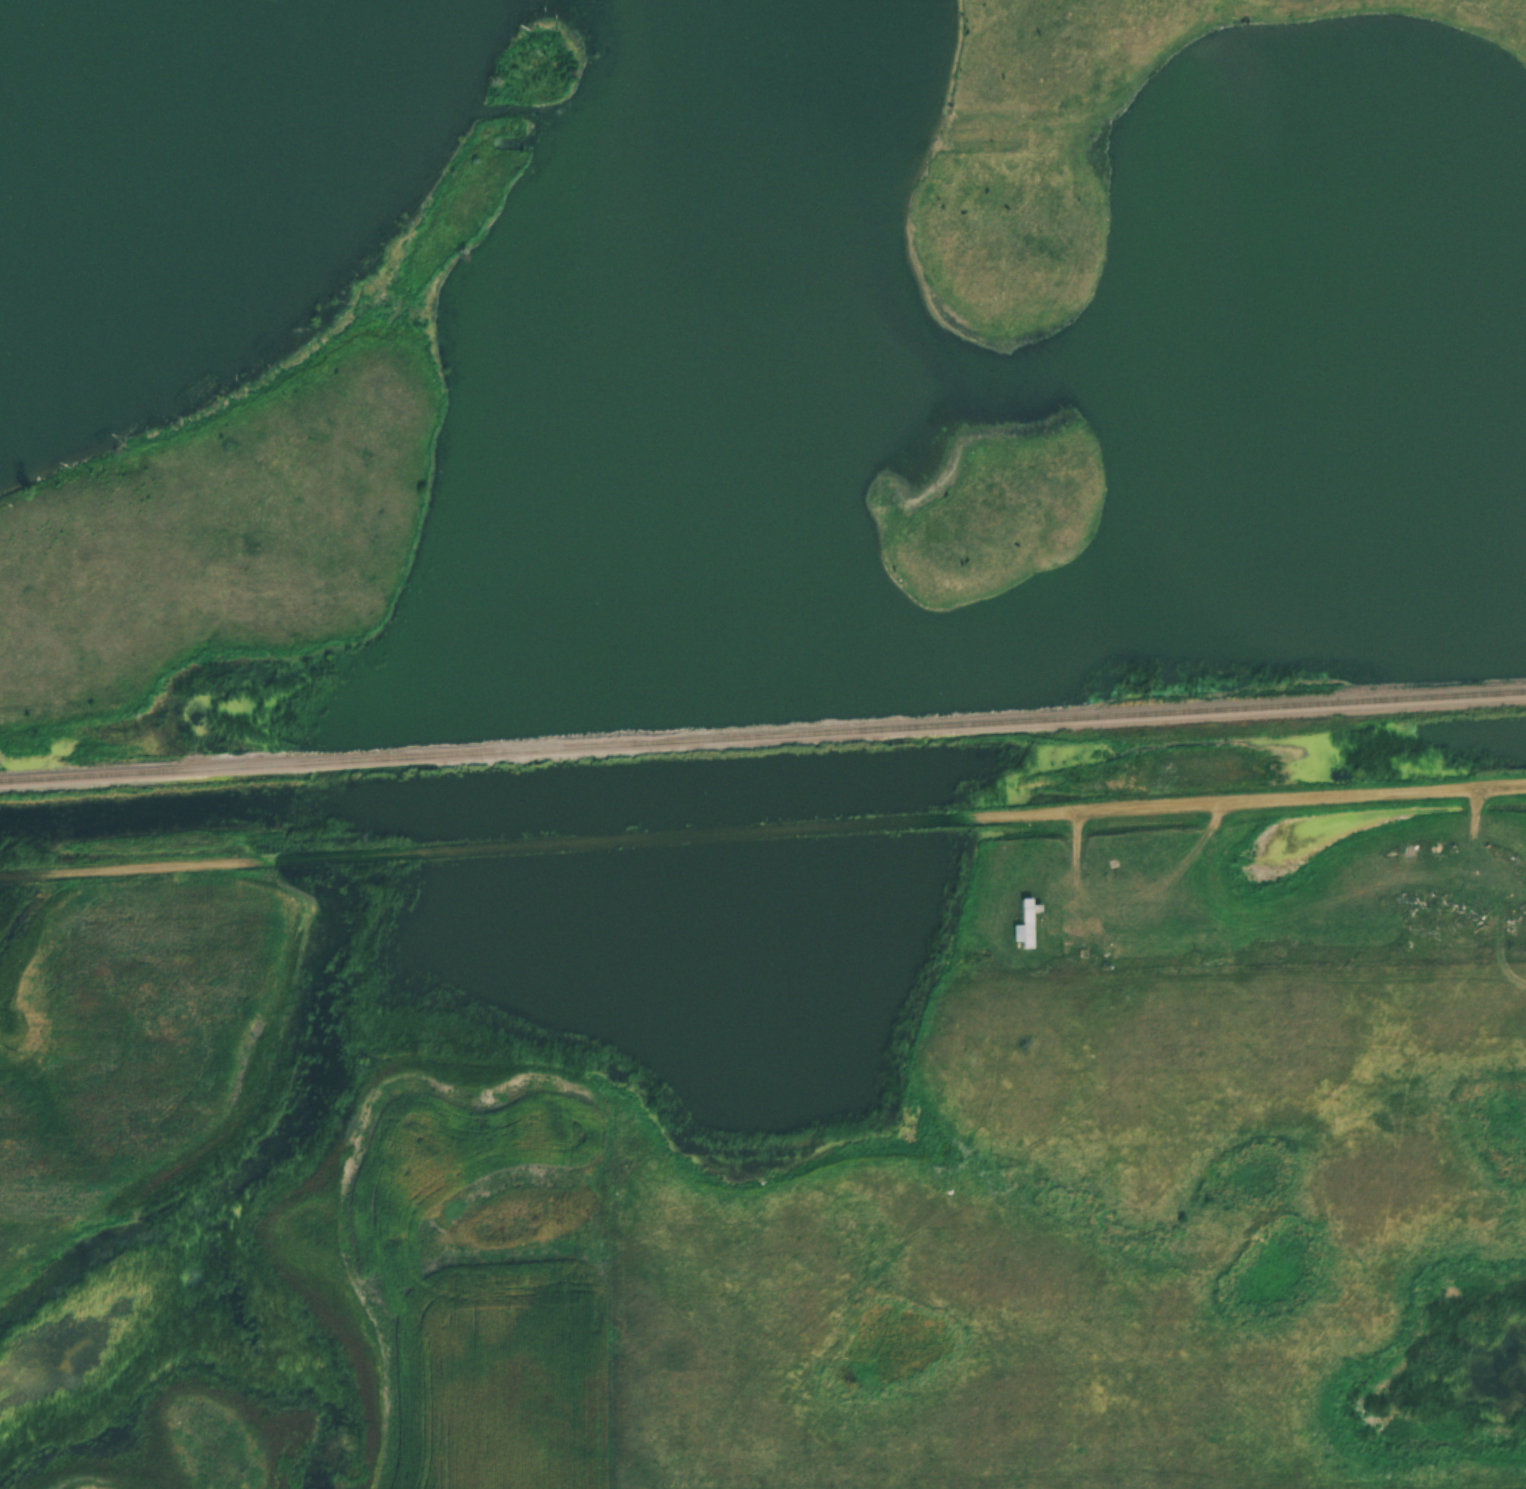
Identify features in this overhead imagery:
railway: (763, 734)
road: (762, 832)

